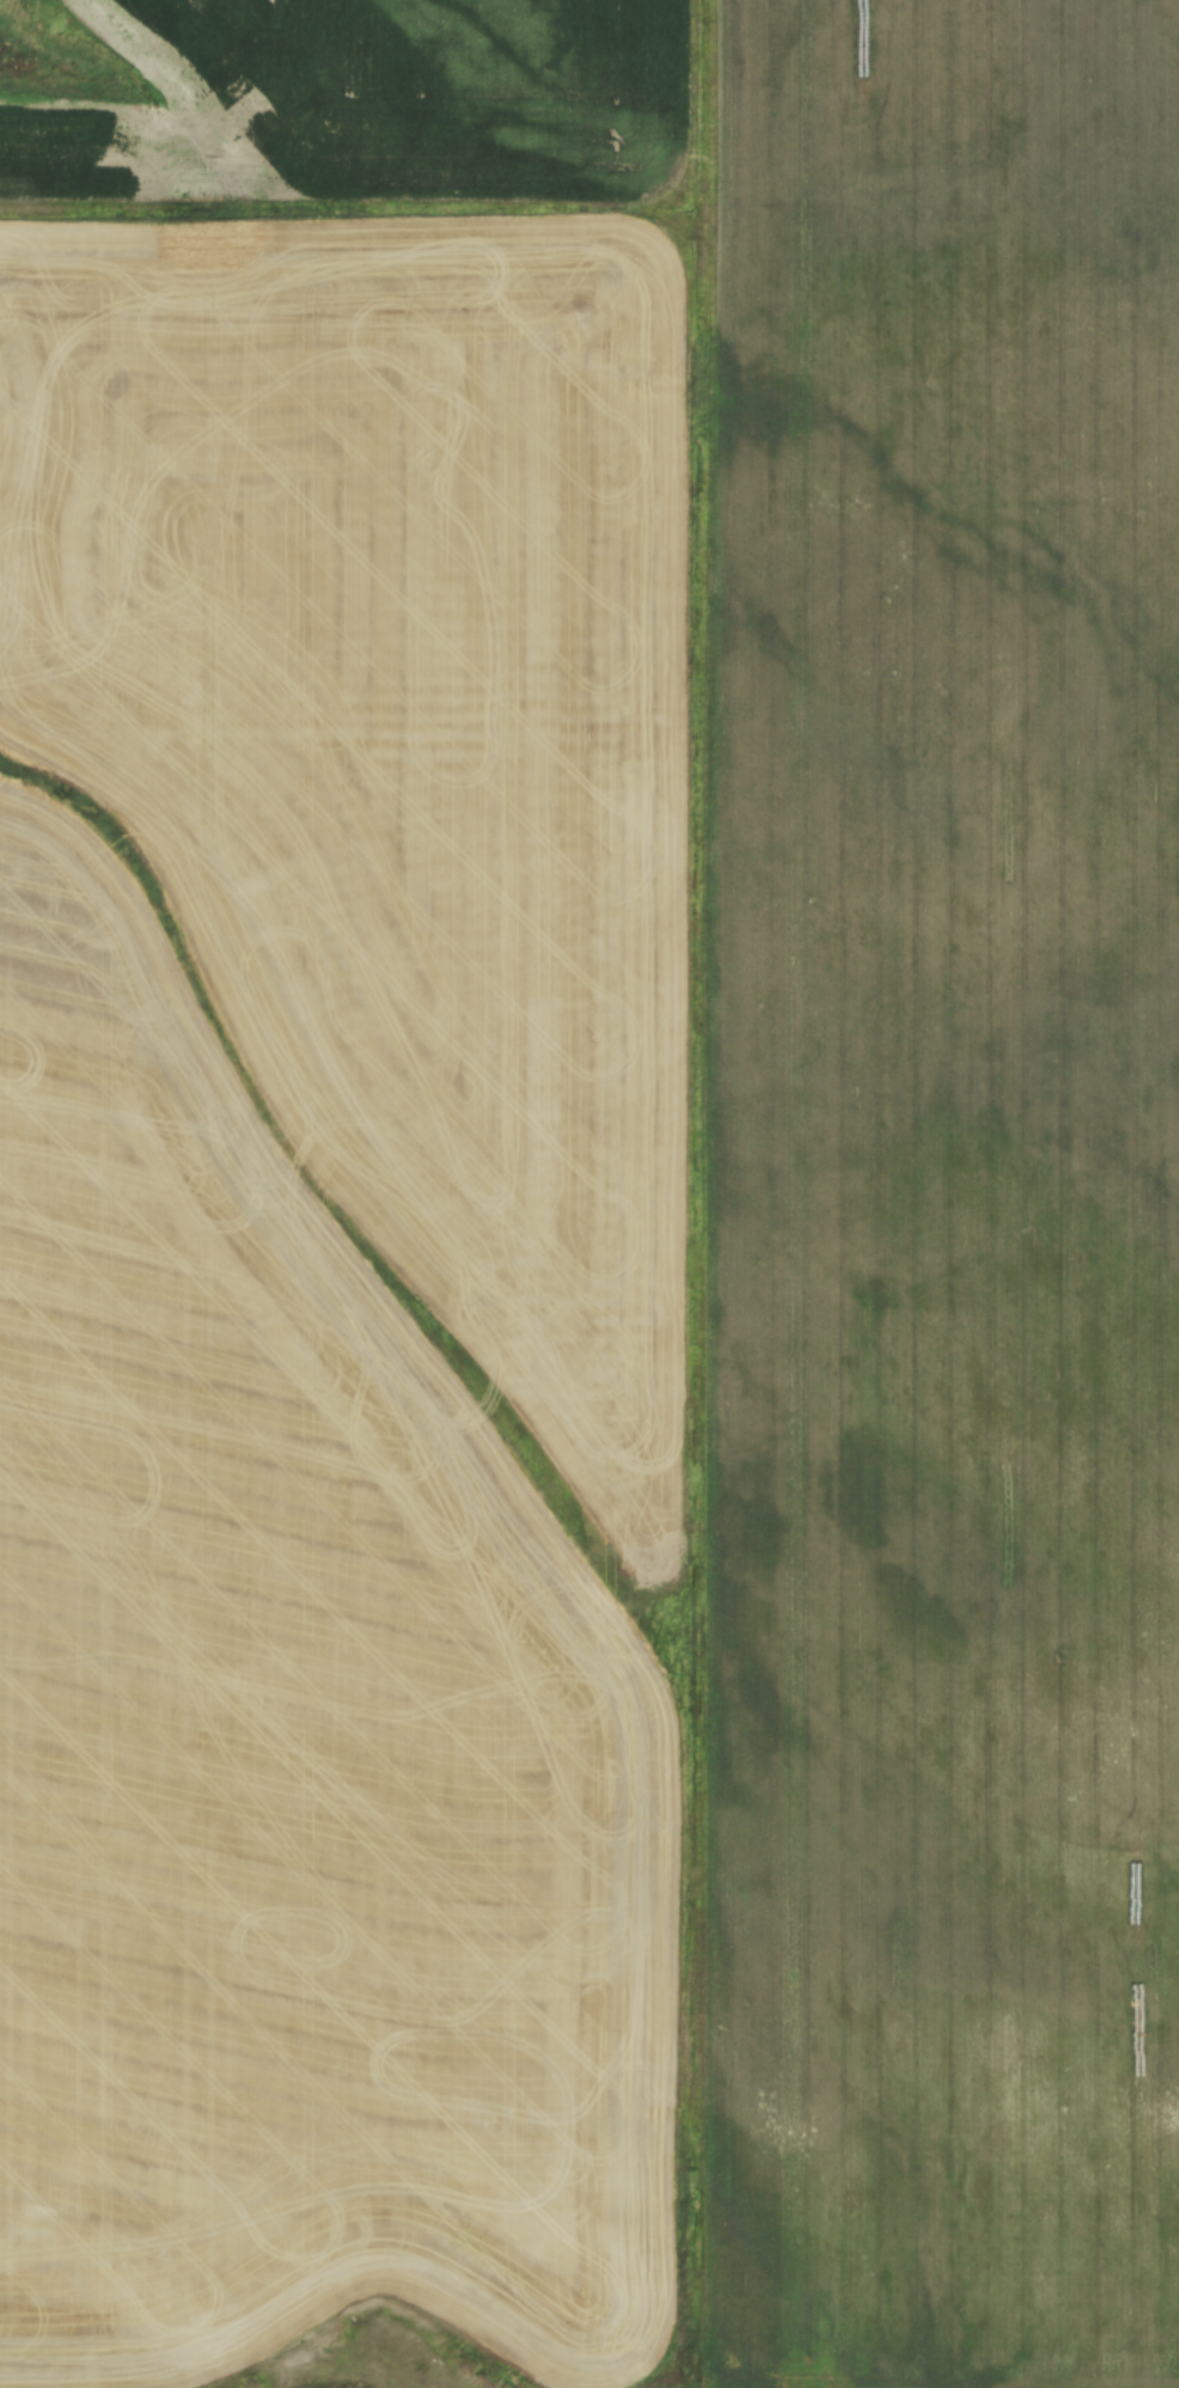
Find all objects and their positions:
road: (703, 1193)

